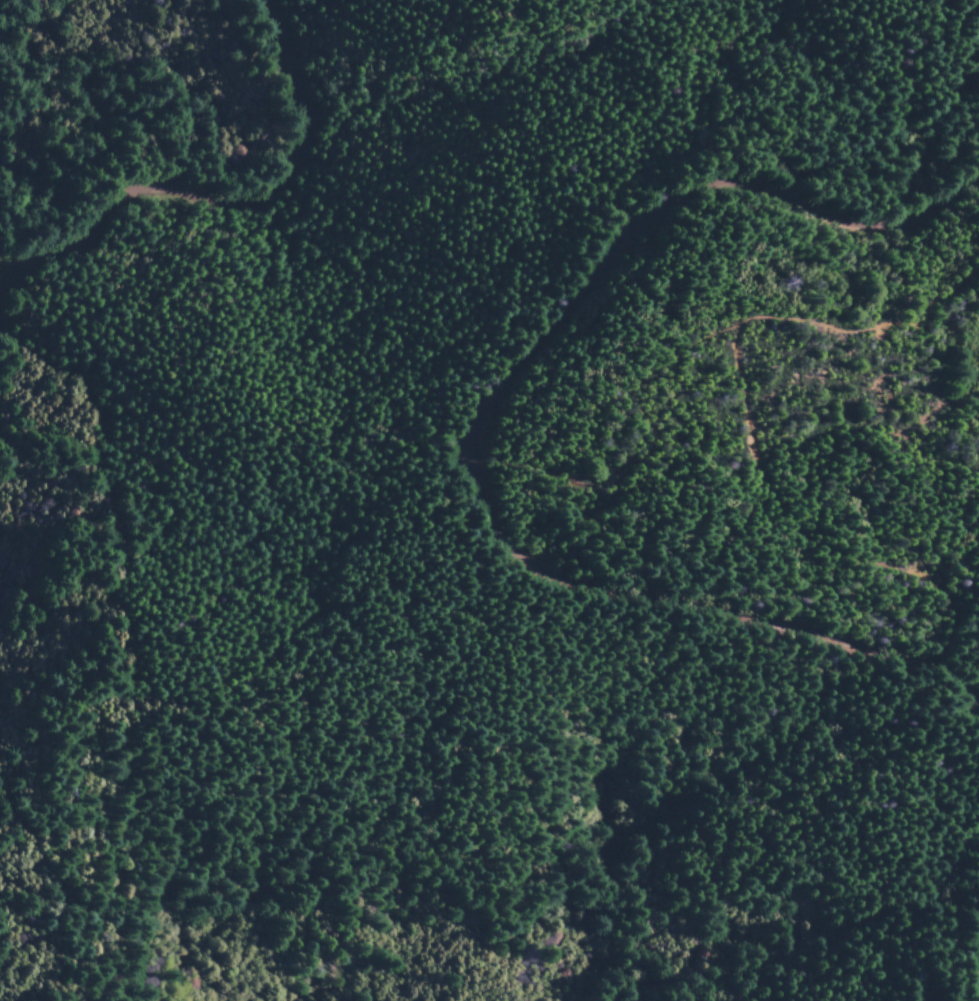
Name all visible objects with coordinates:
road: (154, 180)
road: (418, 989)
road: (67, 990)

